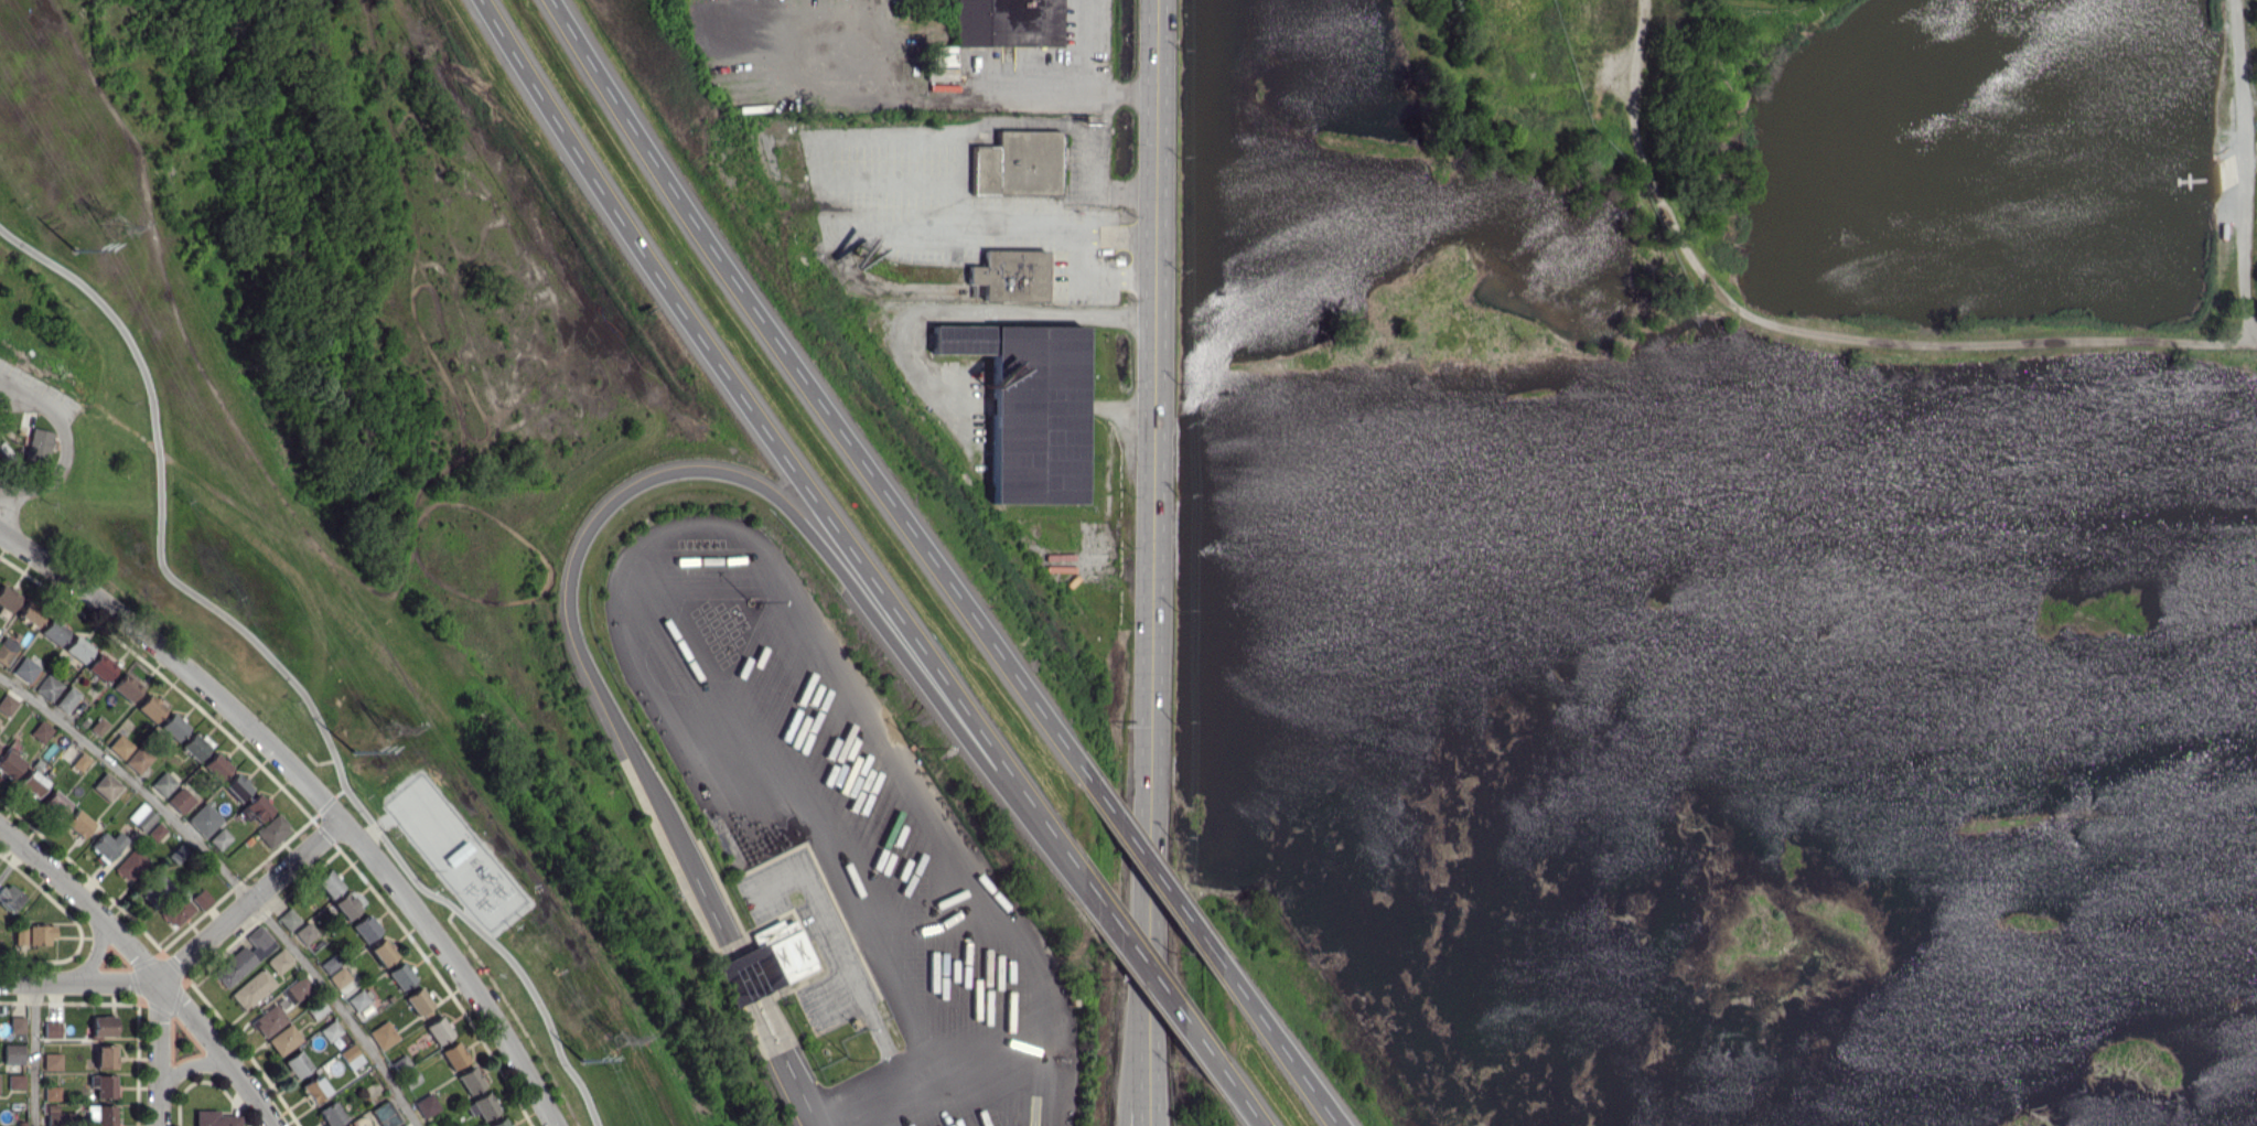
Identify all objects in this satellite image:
building: (1008, 22)
road: (1094, 71)
building: (913, 86)
building: (1019, 163)
road: (1019, 226)
power tower: (116, 228)
power tower: (75, 249)
building: (1012, 275)
road: (1097, 276)
road: (982, 315)
building: (964, 339)
road: (809, 385)
road: (21, 399)
road: (1131, 408)
building: (1039, 414)
road: (61, 420)
road: (773, 439)
building: (37, 446)
road: (22, 489)
road: (584, 537)
road: (1153, 562)
road: (785, 592)
building: (7, 598)
building: (30, 614)
building: (54, 631)
building: (77, 648)
building: (6, 650)
building: (28, 667)
building: (100, 667)
road: (283, 669)
building: (47, 686)
building: (127, 686)
building: (67, 699)
building: (7, 704)
building: (150, 707)
building: (173, 726)
power tower: (390, 730)
building: (41, 731)
building: (120, 746)
building: (194, 747)
power tower: (355, 751)
building: (137, 760)
building: (80, 761)
building: (9, 762)
building: (216, 765)
building: (31, 782)
building: (163, 782)
building: (106, 786)
building: (237, 786)
road: (312, 797)
building: (180, 800)
building: (55, 803)
building: (255, 808)
building: (141, 816)
building: (204, 819)
building: (78, 823)
road: (375, 827)
building: (272, 830)
building: (157, 832)
building: (221, 838)
building: (107, 845)
power substation: (454, 851)
building: (178, 854)
building: (130, 865)
road: (1150, 865)
road: (233, 878)
building: (327, 883)
building: (10, 897)
building: (202, 899)
road: (249, 904)
building: (345, 905)
building: (176, 911)
building: (288, 919)
building: (364, 927)
building: (304, 932)
building: (20, 934)
building: (40, 934)
road: (840, 947)
building: (381, 952)
road: (95, 955)
building: (244, 957)
building: (279, 961)
building: (329, 963)
building: (764, 963)
road: (142, 967)
road: (1150, 968)
building: (400, 975)
toll booth: (746, 976)
building: (338, 977)
road: (78, 982)
building: (299, 987)
building: (252, 988)
building: (357, 999)
building: (418, 1000)
building: (269, 1020)
building: (17, 1023)
building: (103, 1026)
building: (51, 1029)
building: (438, 1030)
building: (334, 1033)
building: (383, 1034)
power tower: (621, 1038)
building: (283, 1039)
road: (1281, 1045)
building: (12, 1053)
road: (33, 1053)
road: (157, 1053)
building: (105, 1055)
building: (453, 1055)
building: (351, 1057)
building: (52, 1061)
power tower: (582, 1062)
building: (297, 1064)
road: (182, 1069)
road: (1040, 1069)
road: (1133, 1072)
building: (470, 1080)
building: (15, 1081)
building: (103, 1085)
building: (314, 1089)
road: (929, 1092)
building: (52, 1093)
road: (1243, 1096)
building: (426, 1105)
building: (484, 1105)
building: (101, 1114)
building: (332, 1114)
building: (385, 1114)
building: (60, 1116)
building: (215, 1118)
building: (498, 1123)
building: (402, 1125)

